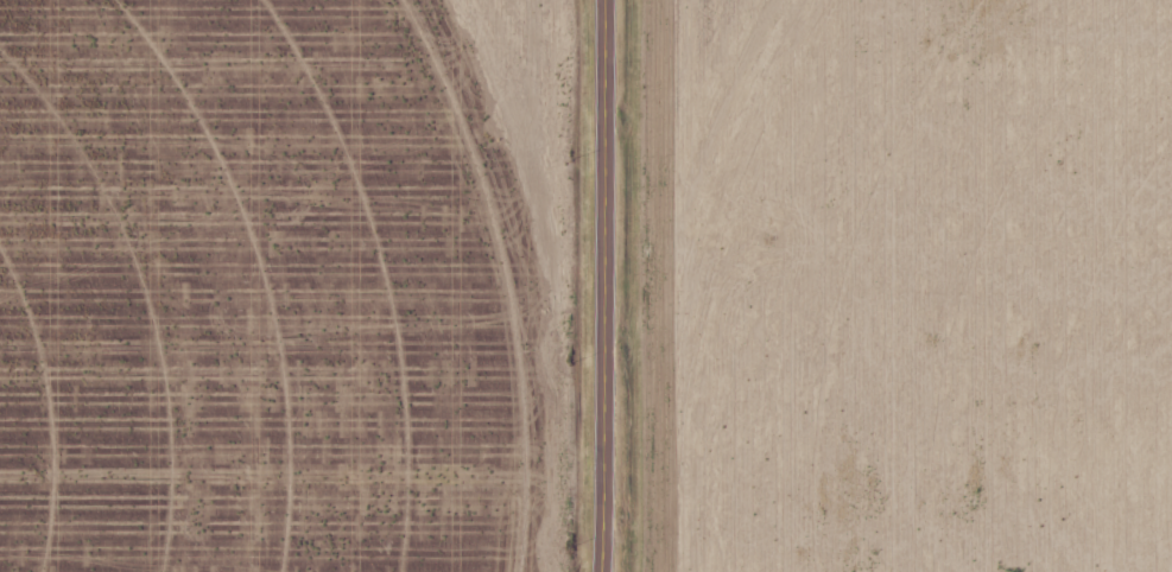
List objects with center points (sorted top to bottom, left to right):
road: (601, 286)

